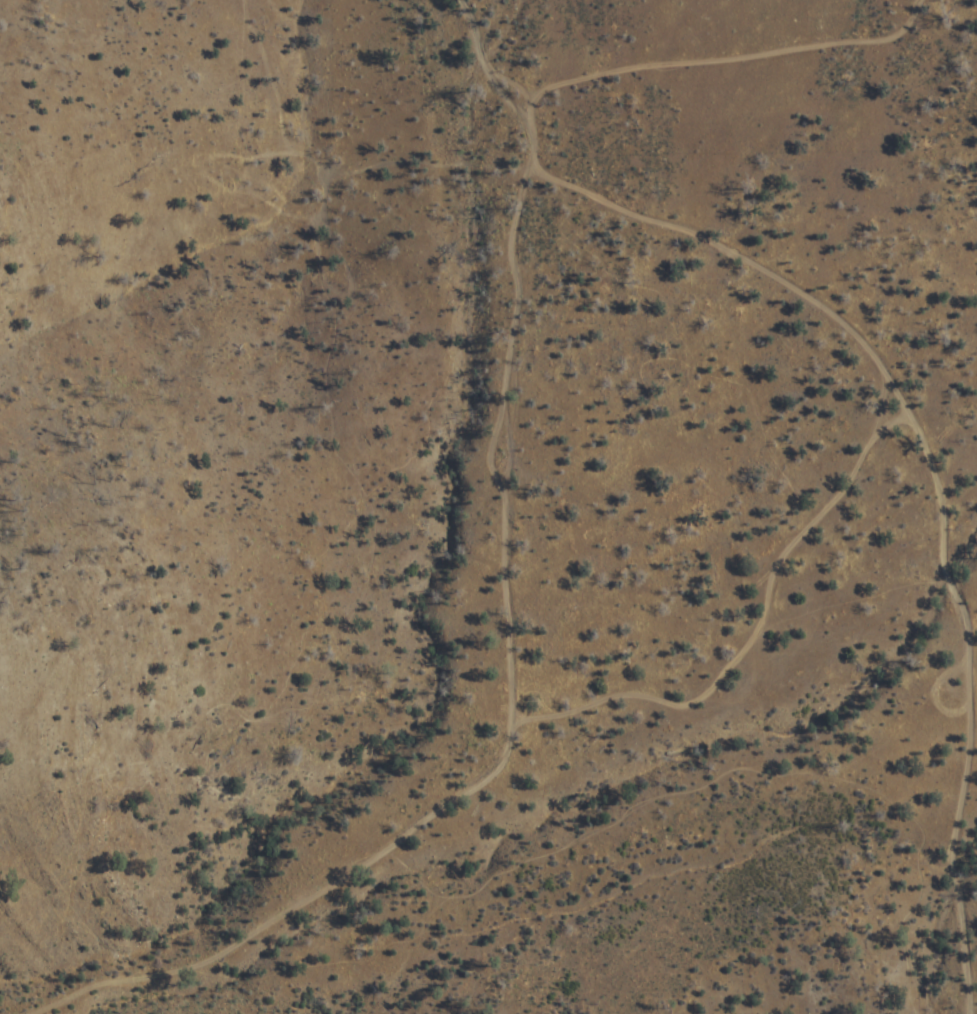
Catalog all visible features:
road: (940, 483)
road: (757, 632)
road: (513, 641)

